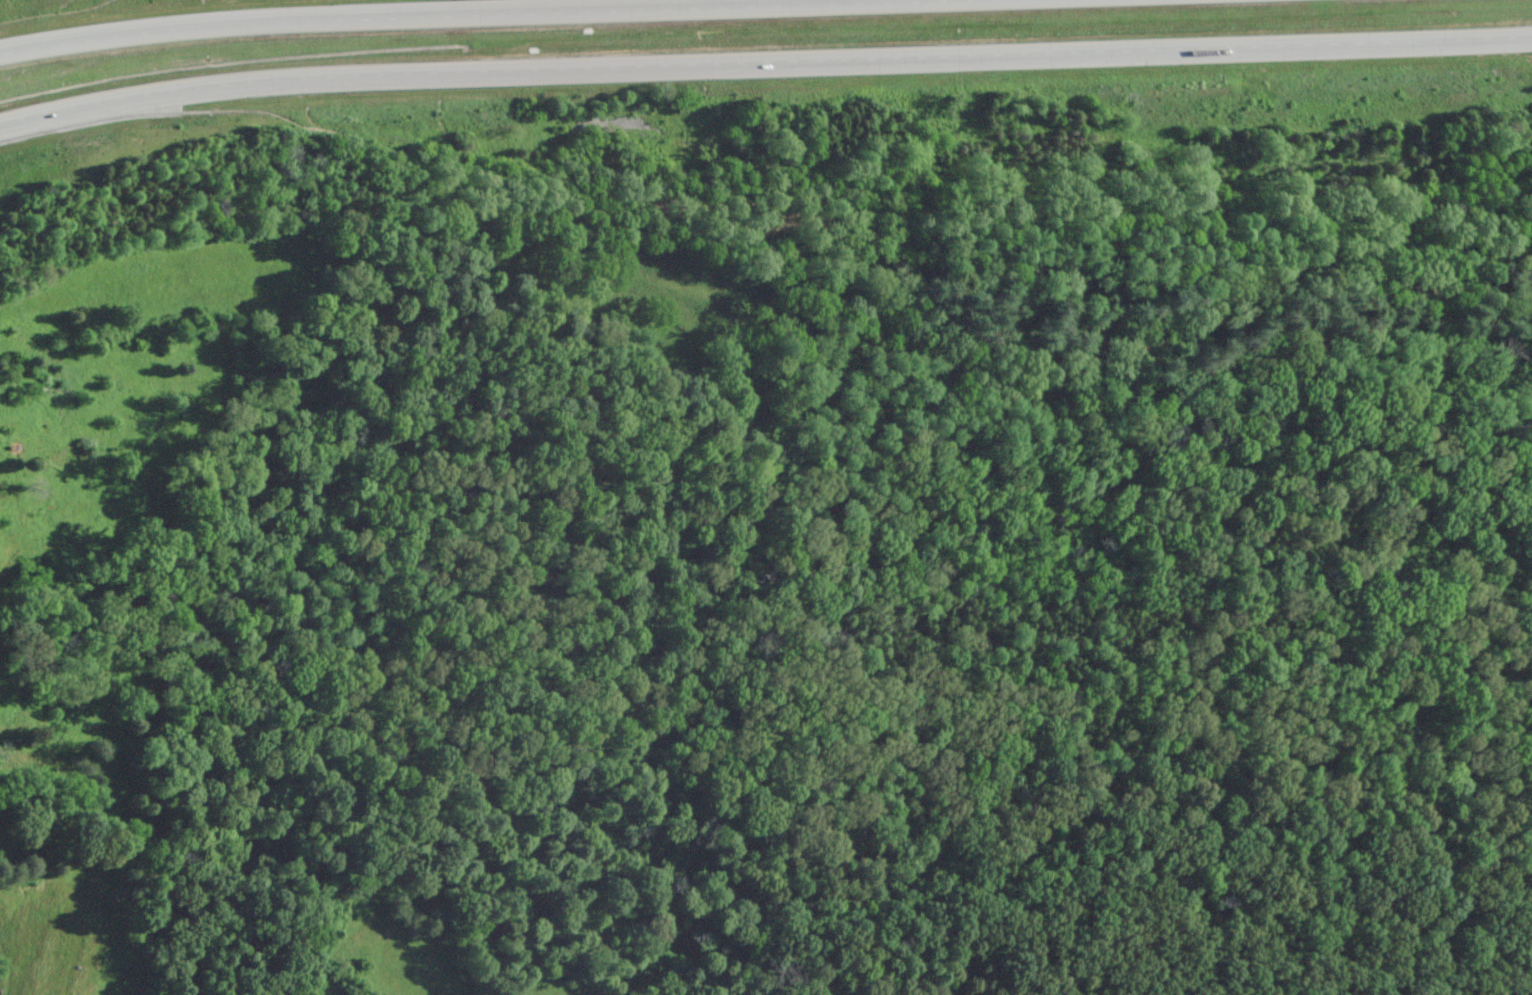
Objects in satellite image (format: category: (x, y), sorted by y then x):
road: (457, 12)
road: (764, 61)

